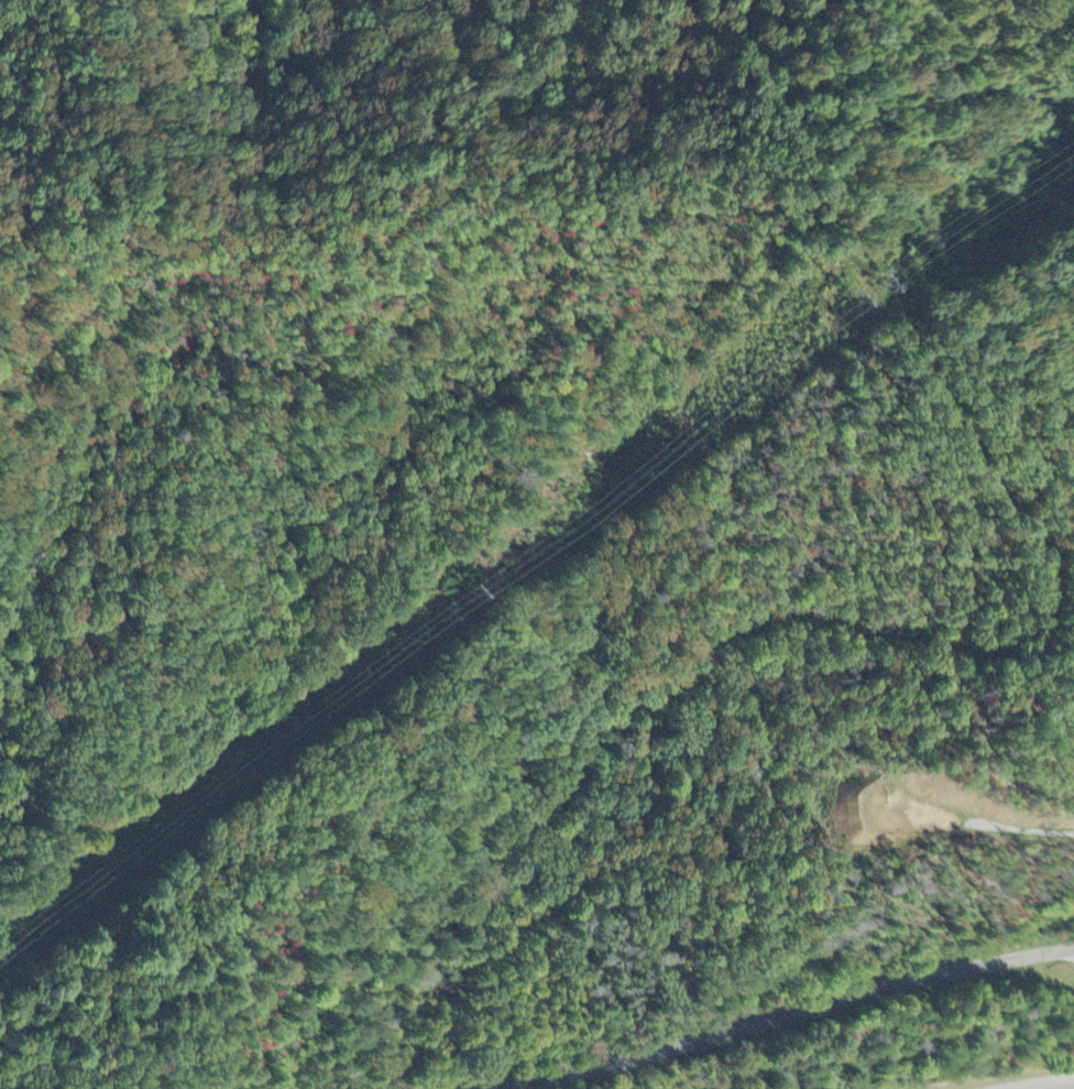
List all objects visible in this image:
power tower: (825, 329)
power tower: (501, 582)
road: (789, 1014)

